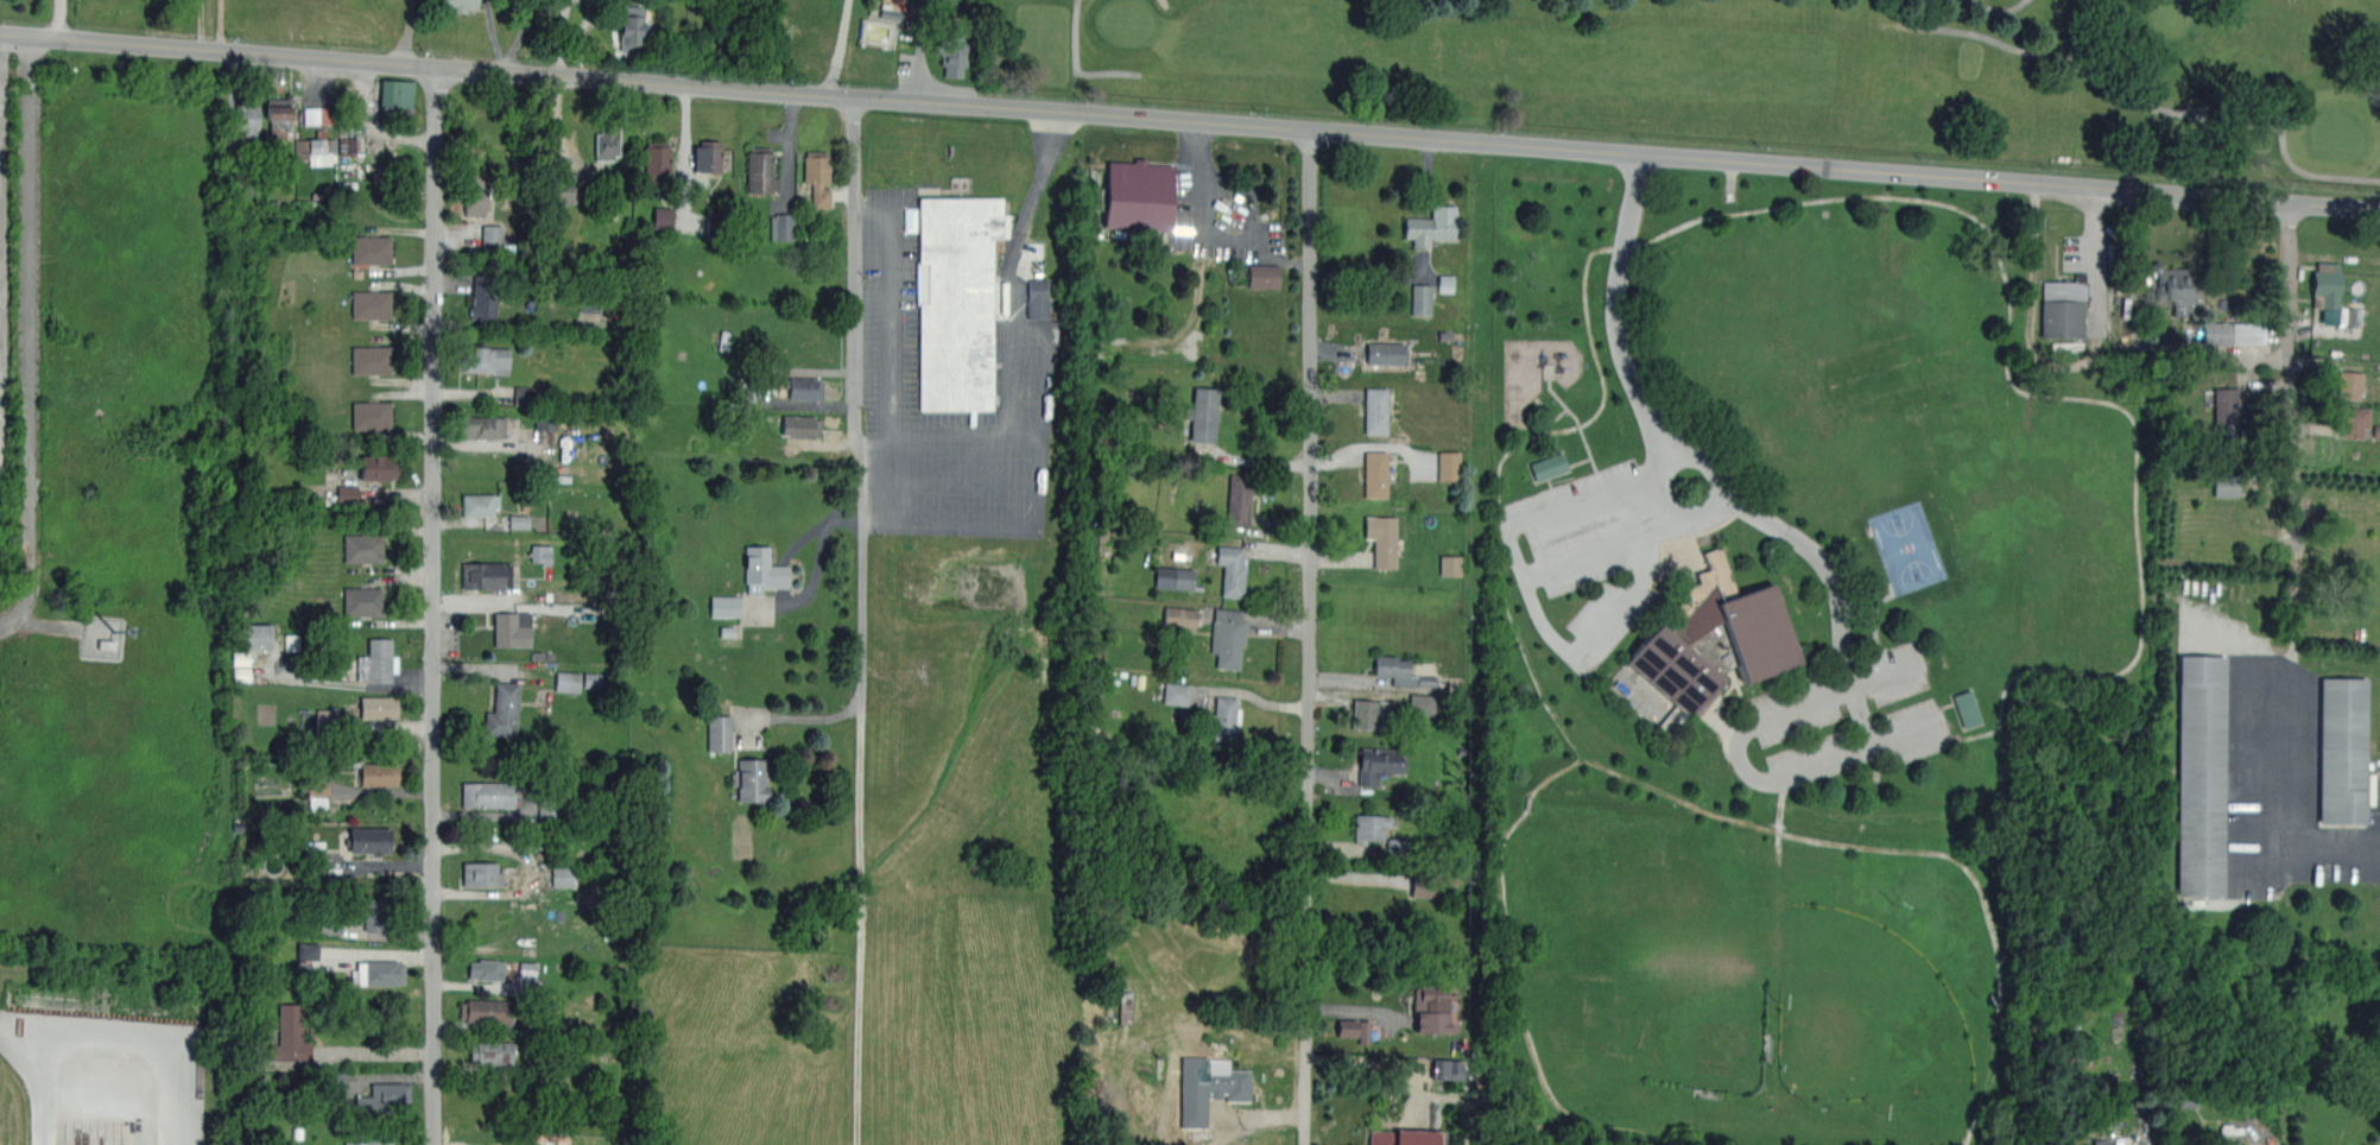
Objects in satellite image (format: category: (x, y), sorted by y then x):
building: (460, 4)
road: (2000, 8)
park: (2172, 14)
road: (59, 19)
park: (1127, 19)
building: (629, 26)
road: (409, 31)
road: (494, 31)
road: (525, 33)
building: (952, 48)
road: (1077, 64)
road: (507, 65)
park: (1771, 74)
building: (393, 97)
road: (2151, 106)
building: (318, 115)
building: (279, 118)
building: (246, 119)
road: (1190, 119)
road: (684, 126)
park: (2337, 133)
building: (607, 141)
building: (352, 145)
building: (314, 151)
building: (708, 156)
building: (657, 162)
building: (760, 170)
building: (817, 176)
road: (0, 189)
building: (559, 190)
building: (475, 195)
building: (1135, 195)
parking lot: (1229, 210)
building: (663, 217)
road: (1208, 222)
building: (1432, 226)
building: (781, 227)
building: (492, 238)
building: (371, 249)
road: (2095, 257)
building: (1264, 276)
building: (1445, 284)
building: (2175, 286)
building: (2327, 290)
building: (482, 298)
building: (1038, 298)
building: (1422, 299)
building: (957, 301)
building: (371, 304)
building: (2063, 308)
building: (2234, 333)
road: (30, 335)
road: (2141, 344)
building: (1385, 353)
building: (371, 359)
building: (482, 359)
road: (886, 365)
parking lot: (1024, 365)
building: (2348, 384)
building: (804, 387)
road: (856, 404)
building: (1375, 410)
building: (2227, 412)
road: (1007, 413)
building: (371, 415)
building: (1201, 415)
building: (2350, 419)
building: (800, 425)
building: (483, 426)
road: (2294, 431)
road: (876, 438)
building: (1449, 466)
building: (1549, 467)
building: (376, 468)
road: (1665, 472)
building: (1375, 474)
road: (949, 477)
building: (2226, 485)
road: (1692, 487)
building: (347, 494)
building: (1239, 500)
building: (479, 504)
road: (1696, 511)
building: (520, 521)
road: (1666, 525)
building: (1381, 539)
park: (1907, 546)
building: (362, 548)
building: (540, 553)
parking lot: (1584, 557)
building: (1451, 565)
building: (761, 570)
building: (1233, 571)
building: (486, 575)
building: (1175, 577)
building: (362, 600)
road: (433, 605)
building: (724, 606)
building: (1179, 618)
building: (511, 630)
road: (1304, 635)
building: (1228, 637)
building: (1716, 638)
building: (249, 649)
park: (1764, 652)
building: (376, 662)
building: (1399, 671)
road: (1884, 678)
building: (593, 679)
building: (568, 681)
building: (1177, 694)
building: (1422, 704)
building: (378, 706)
building: (1967, 709)
building: (502, 710)
building: (1369, 714)
road: (800, 717)
building: (327, 719)
building: (1226, 719)
parking lot: (1841, 722)
building: (720, 733)
road: (1898, 734)
building: (2338, 748)
road: (1739, 759)
building: (1378, 764)
building: (378, 773)
building: (2198, 776)
building: (751, 779)
parking lot: (2255, 782)
building: (317, 793)
building: (487, 793)
building: (551, 810)
road: (2265, 812)
building: (1369, 827)
building: (371, 840)
road: (531, 871)
building: (481, 873)
building: (563, 877)
building: (375, 912)
building: (330, 925)
road: (860, 929)
building: (308, 950)
building: (314, 967)
building: (486, 968)
building: (379, 972)
park: (1675, 997)
building: (1430, 1008)
building: (486, 1010)
park: (1868, 1014)
building: (1354, 1030)
building: (291, 1035)
road: (373, 1052)
building: (490, 1052)
building: (1448, 1069)
road: (39, 1075)
building: (338, 1082)
building: (1223, 1082)
building: (382, 1099)
building: (1404, 1138)
building: (372, 1140)
building: (2101, 1141)
building: (2116, 1143)

